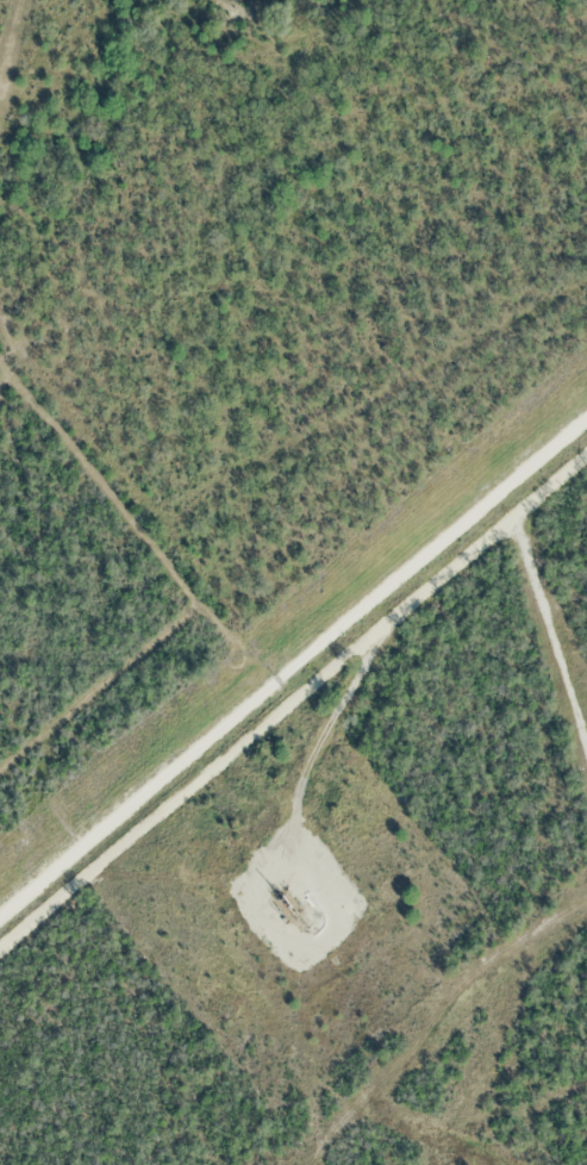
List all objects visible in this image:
road: (373, 652)
road: (198, 779)

